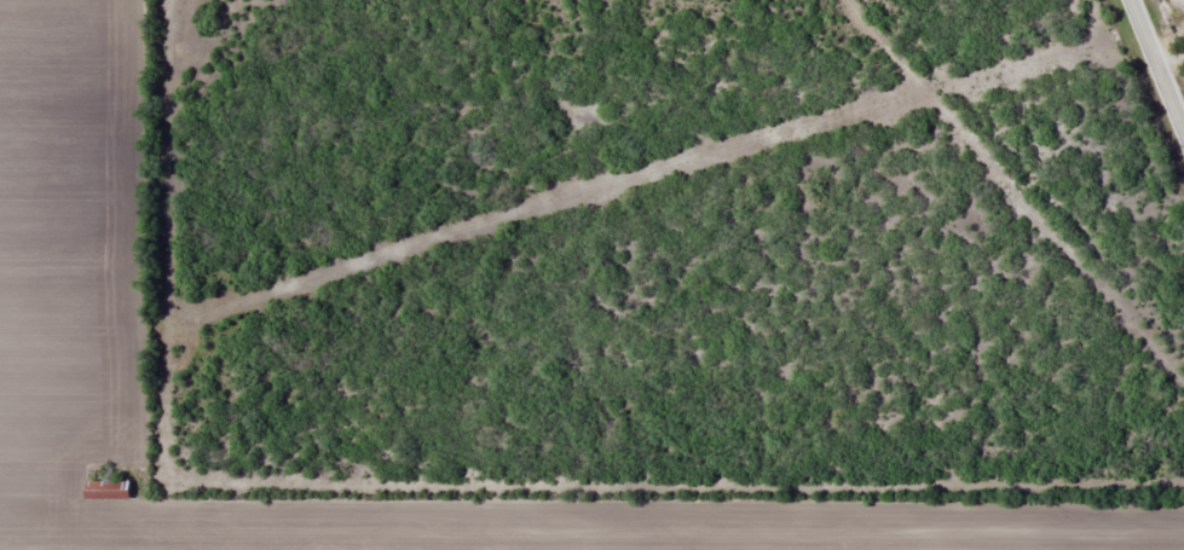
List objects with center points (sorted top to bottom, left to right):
road: (1157, 64)

